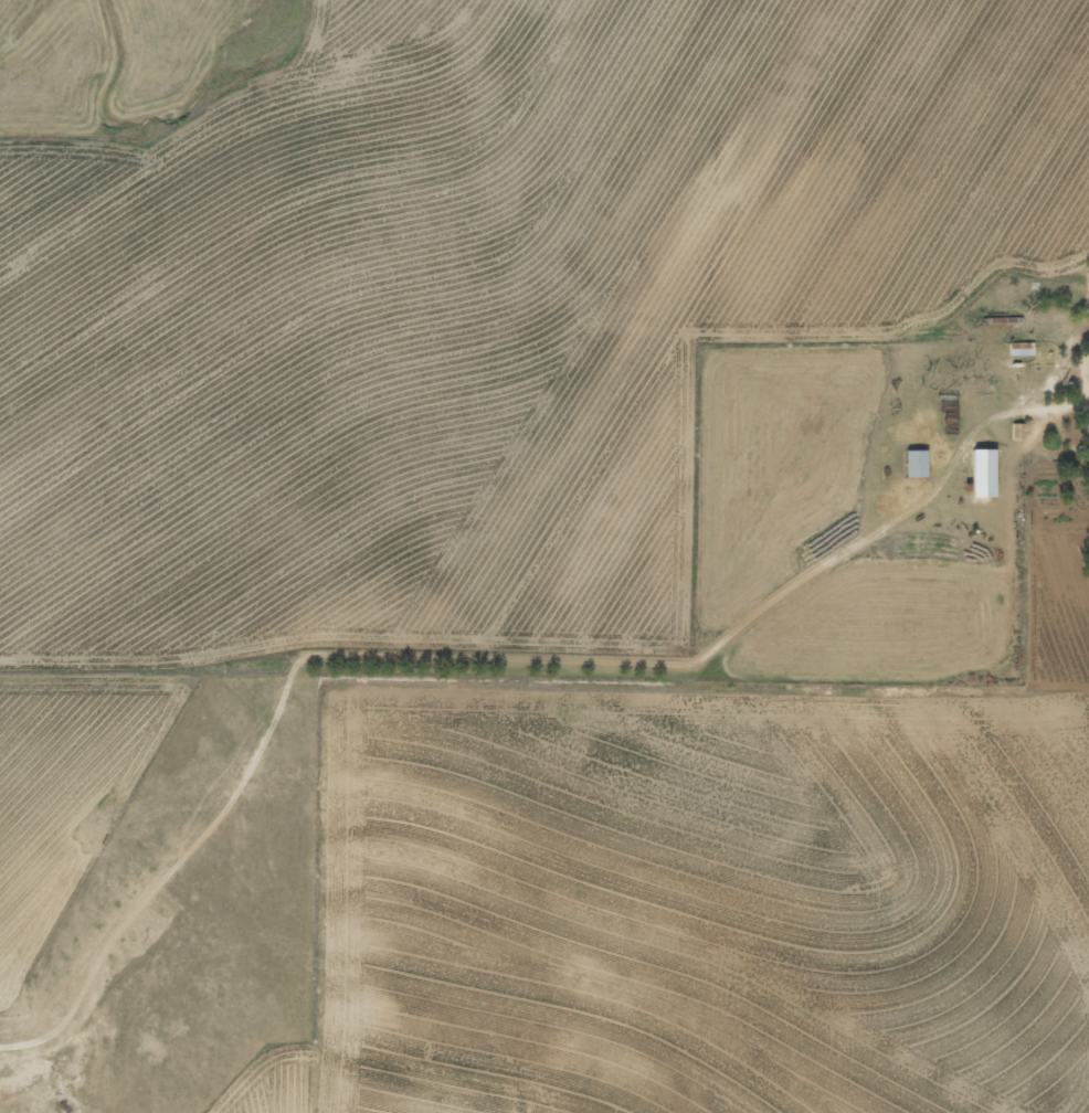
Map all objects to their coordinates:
building: (919, 465)
building: (987, 473)
road: (308, 732)

